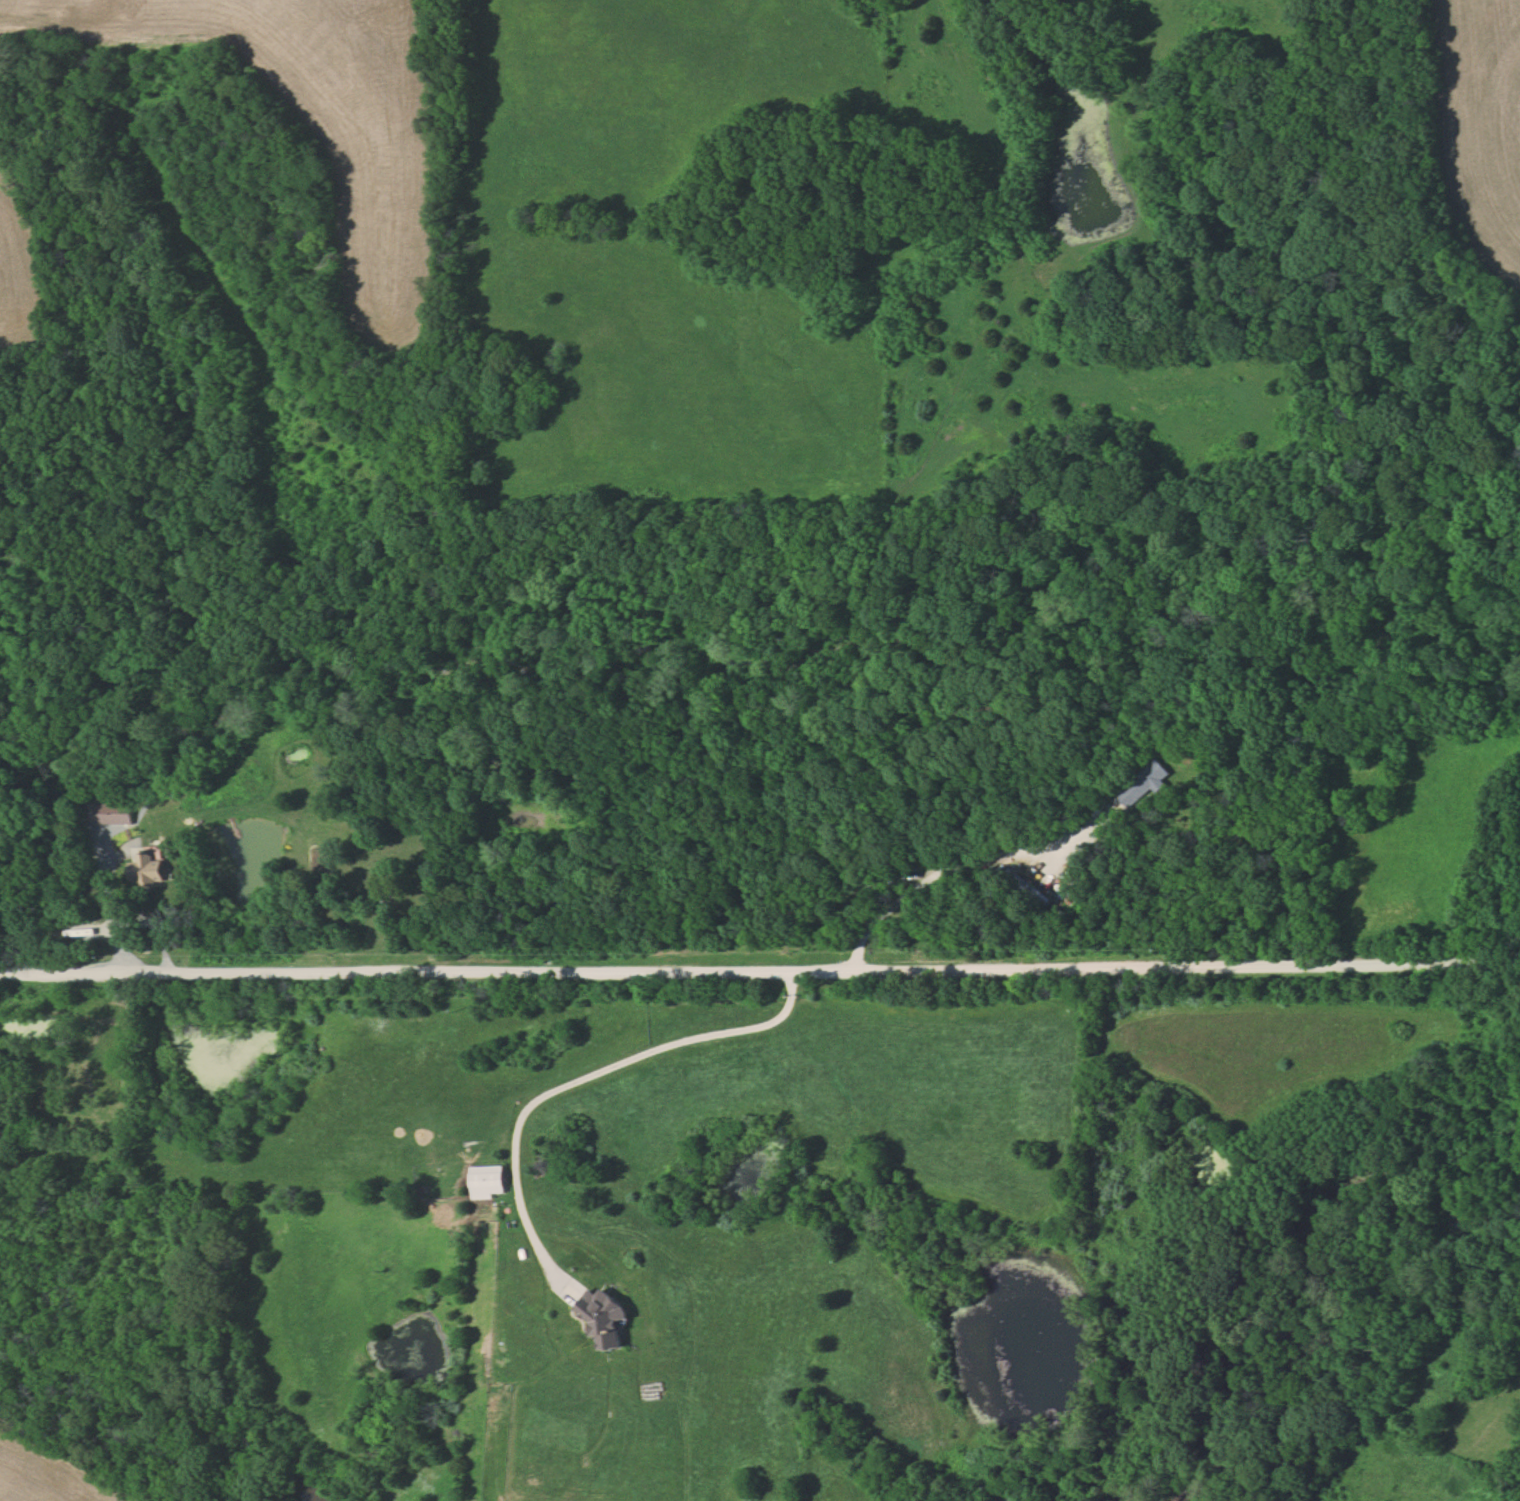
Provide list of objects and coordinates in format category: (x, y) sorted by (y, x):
building: (1146, 784)
road: (962, 858)
building: (152, 868)
road: (112, 911)
road: (760, 971)
road: (583, 1077)
building: (4, 1140)
building: (487, 1182)

